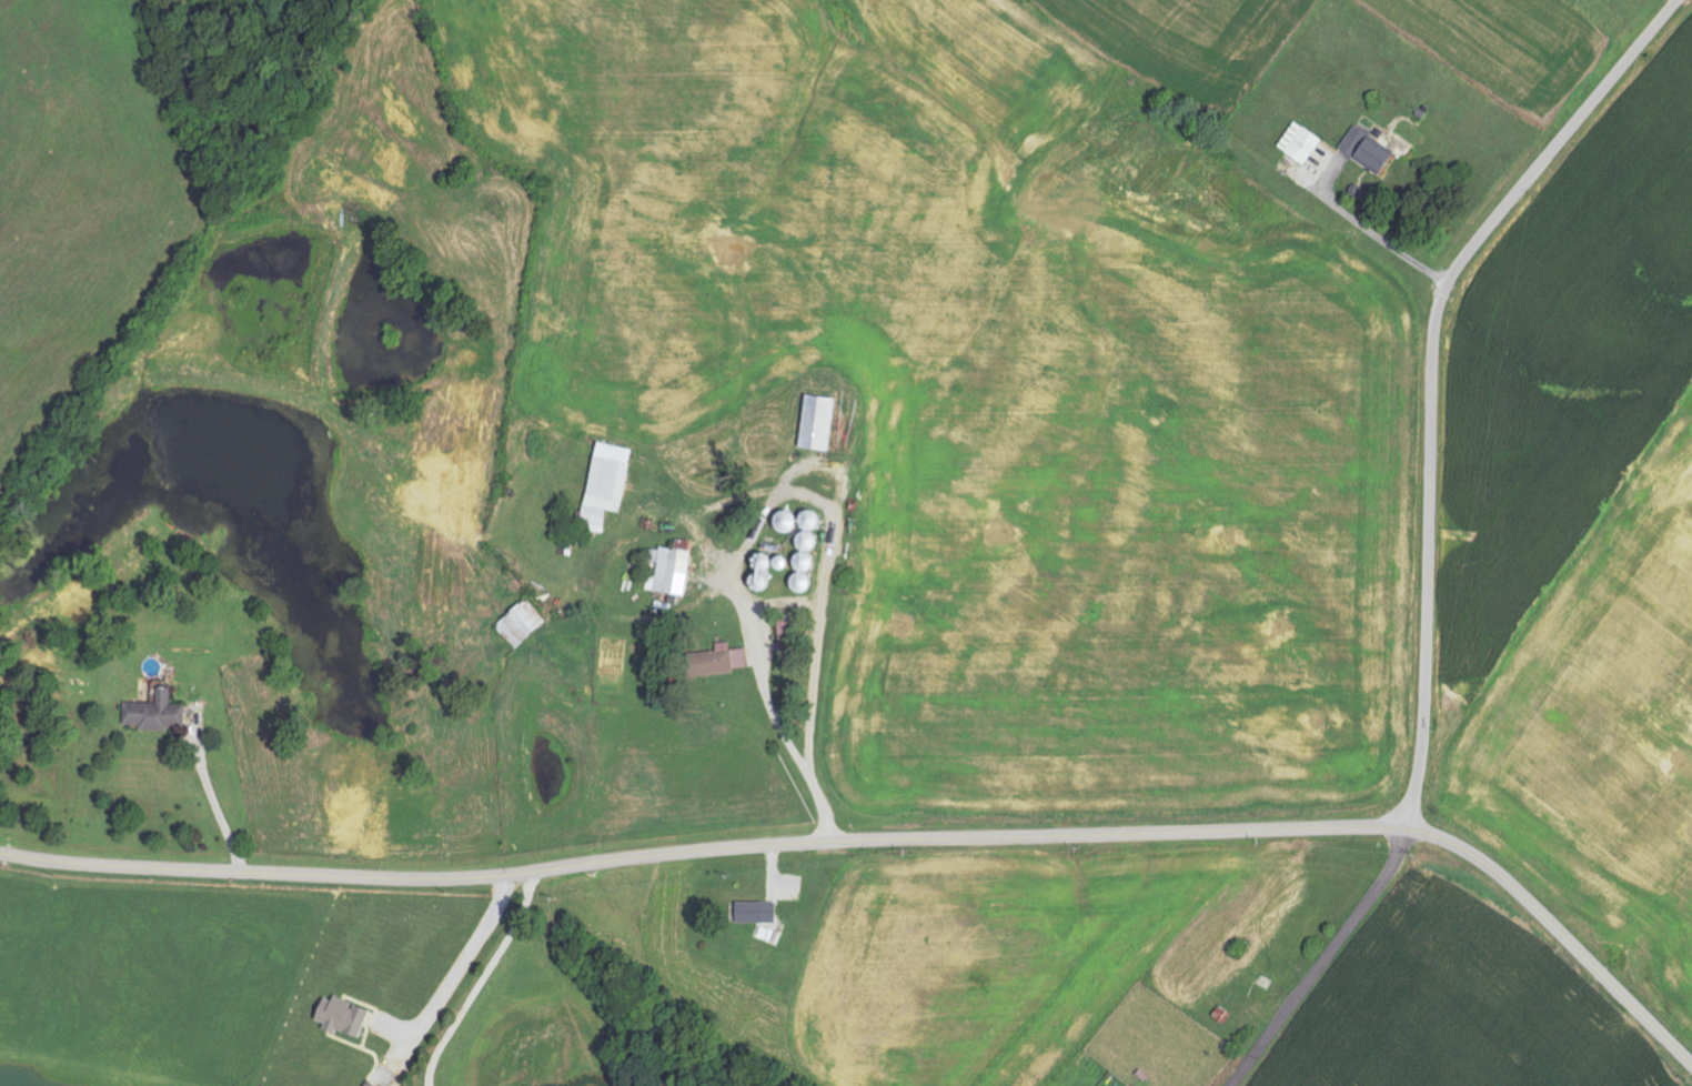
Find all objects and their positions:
building: (1302, 143)
building: (1369, 152)
road: (1372, 235)
road: (1431, 376)
building: (820, 424)
building: (612, 482)
building: (803, 544)
building: (674, 571)
building: (523, 625)
building: (787, 641)
building: (726, 661)
building: (159, 714)
road: (779, 723)
road: (218, 804)
road: (888, 839)
building: (759, 913)
road: (1322, 962)
road: (464, 964)
road: (484, 979)
building: (345, 1016)
building: (373, 1084)

